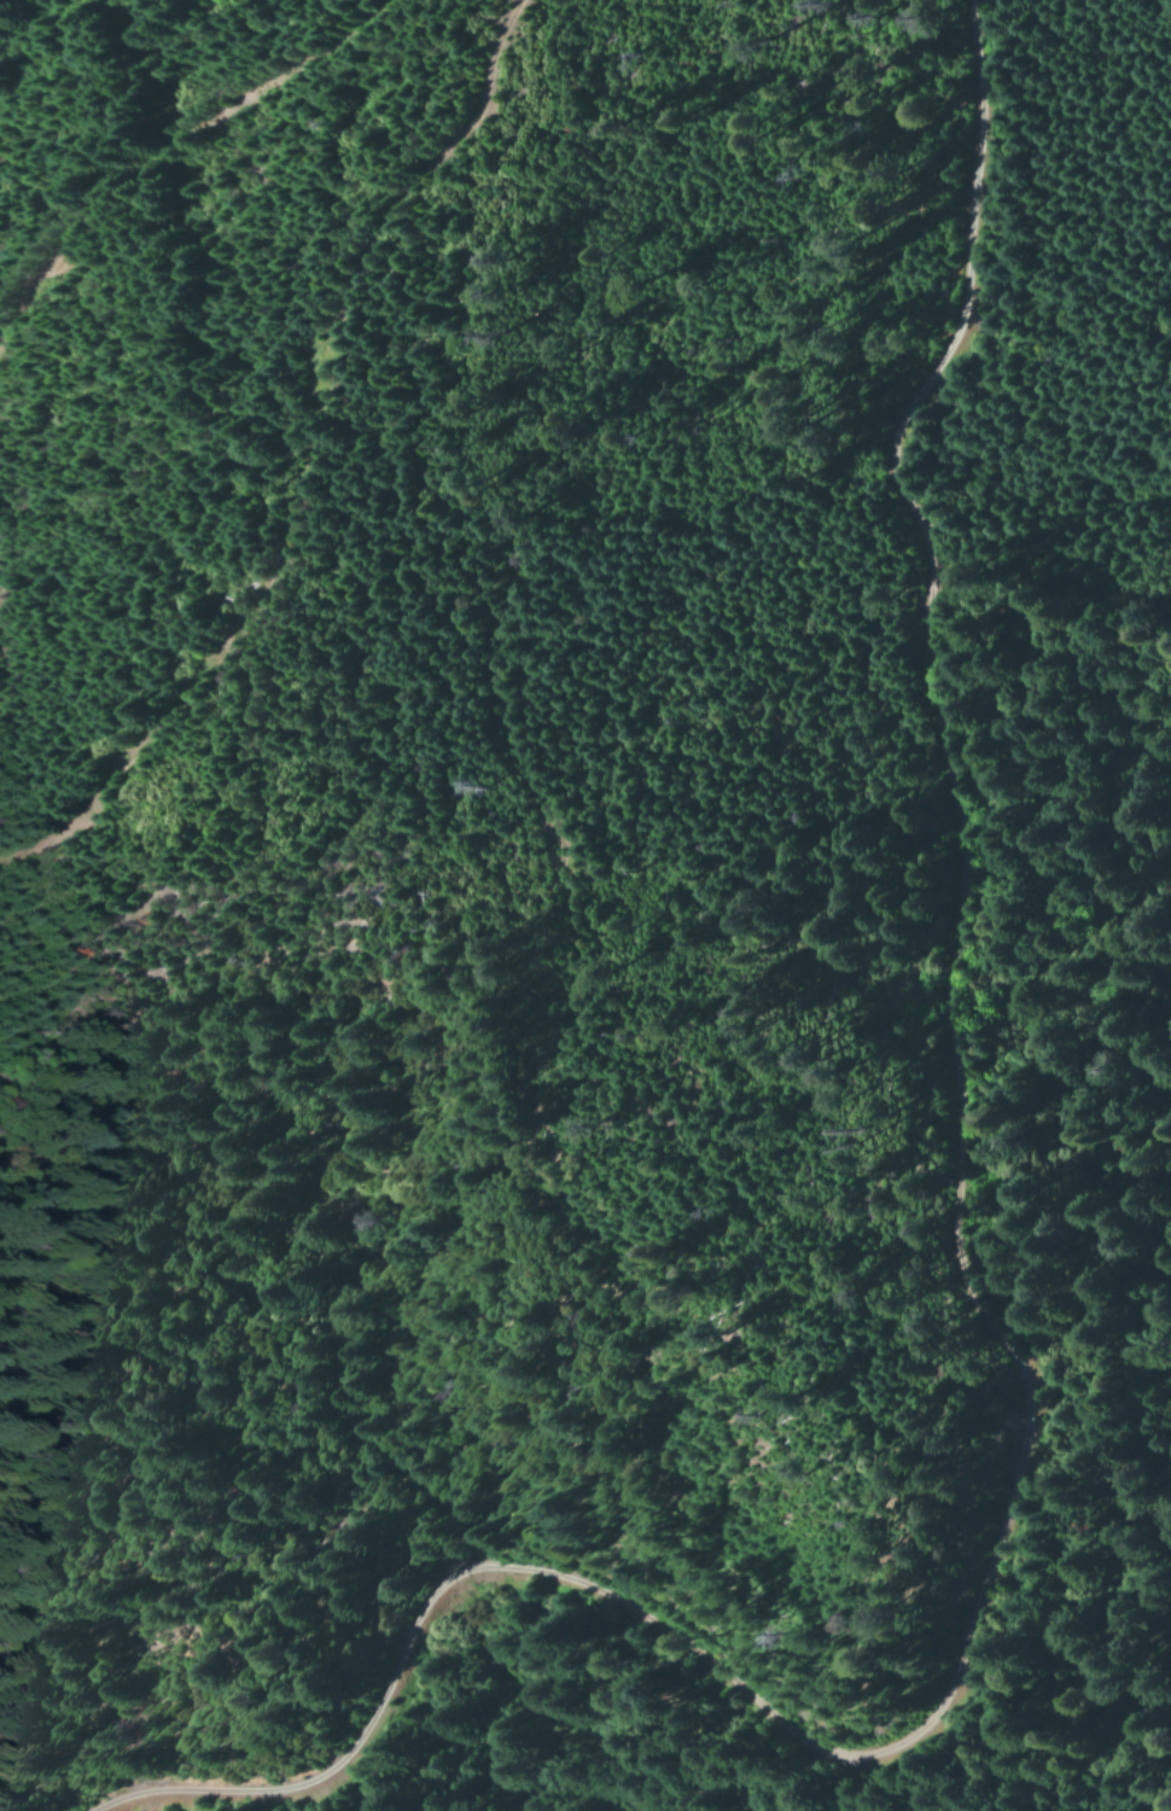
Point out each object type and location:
road: (179, 139)
road: (299, 459)
road: (1020, 1349)

